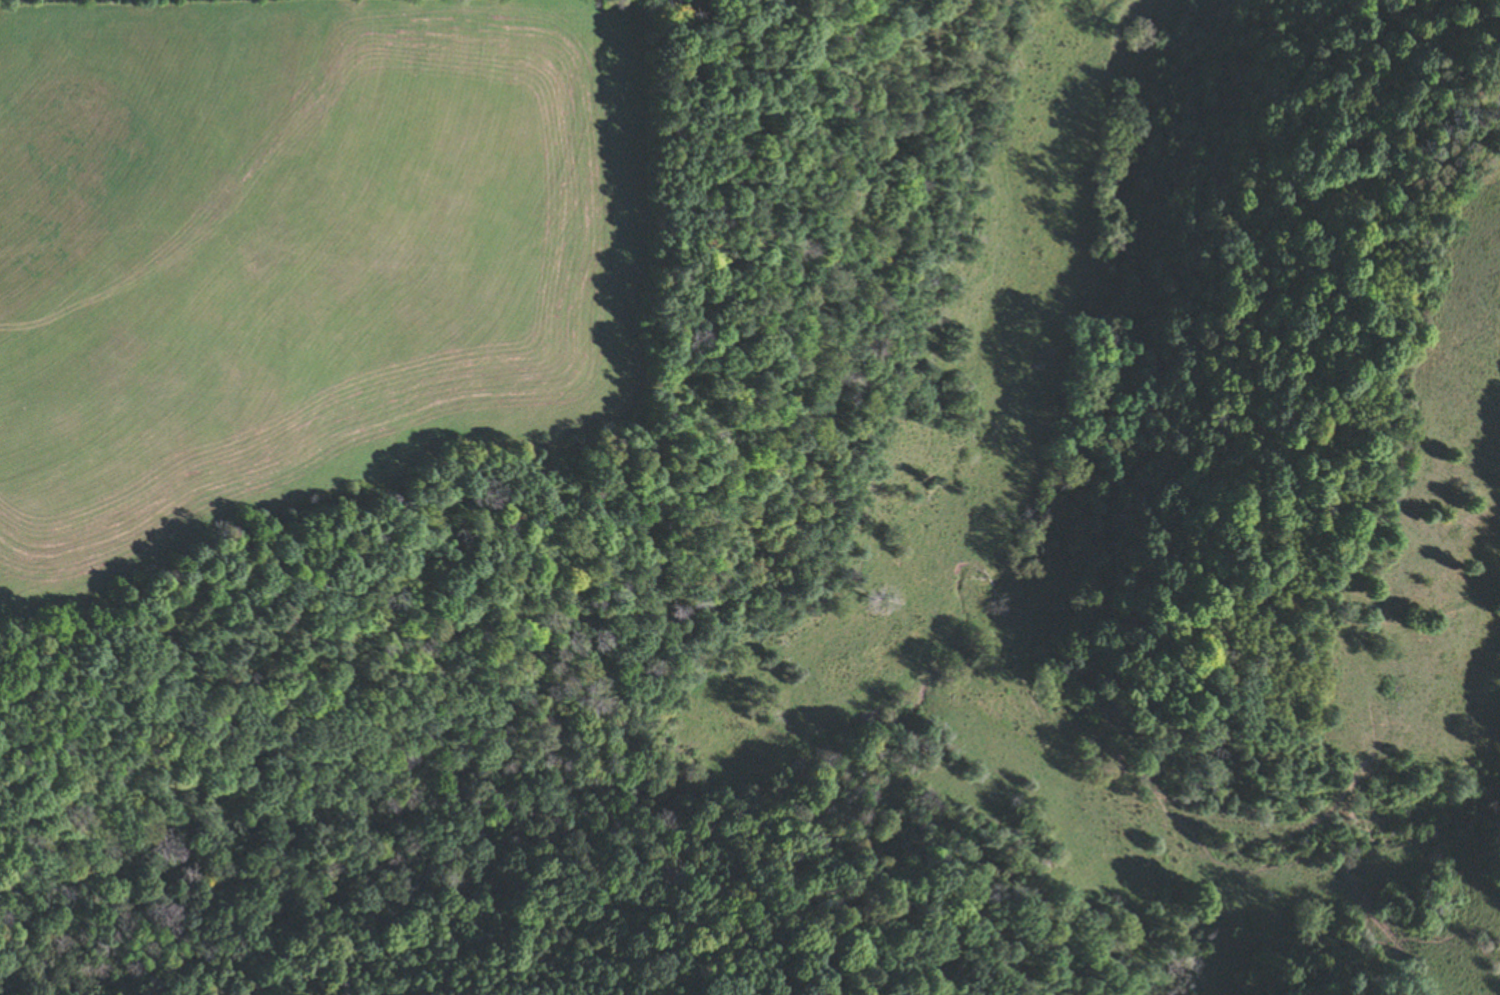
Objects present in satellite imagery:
crop: (299, 259)

